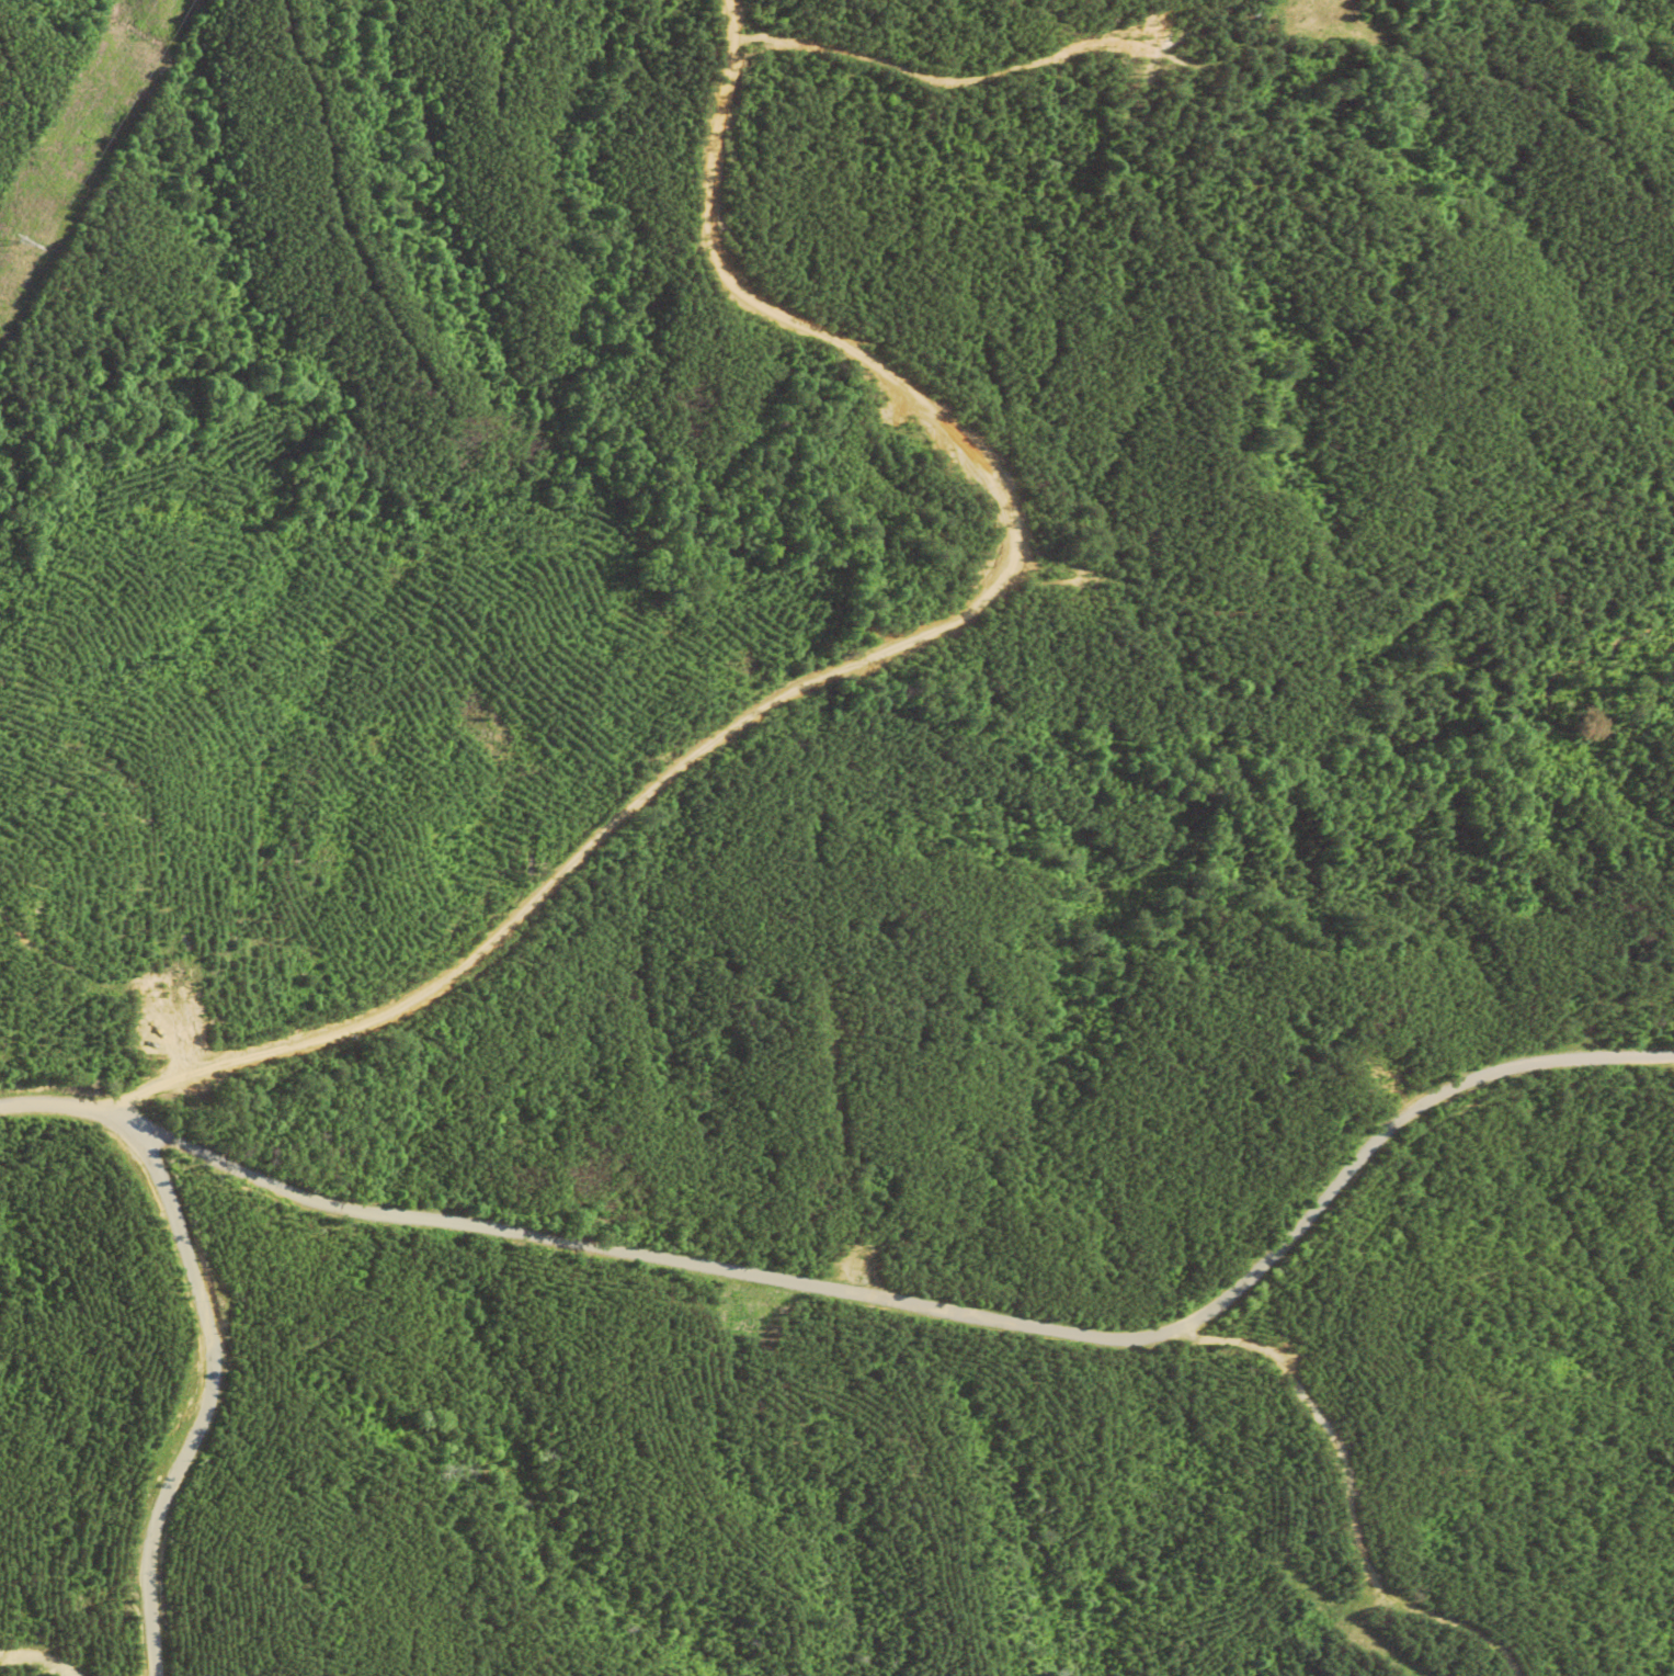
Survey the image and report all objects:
power tower: (19, 242)
road: (875, 1291)
road: (209, 1404)

